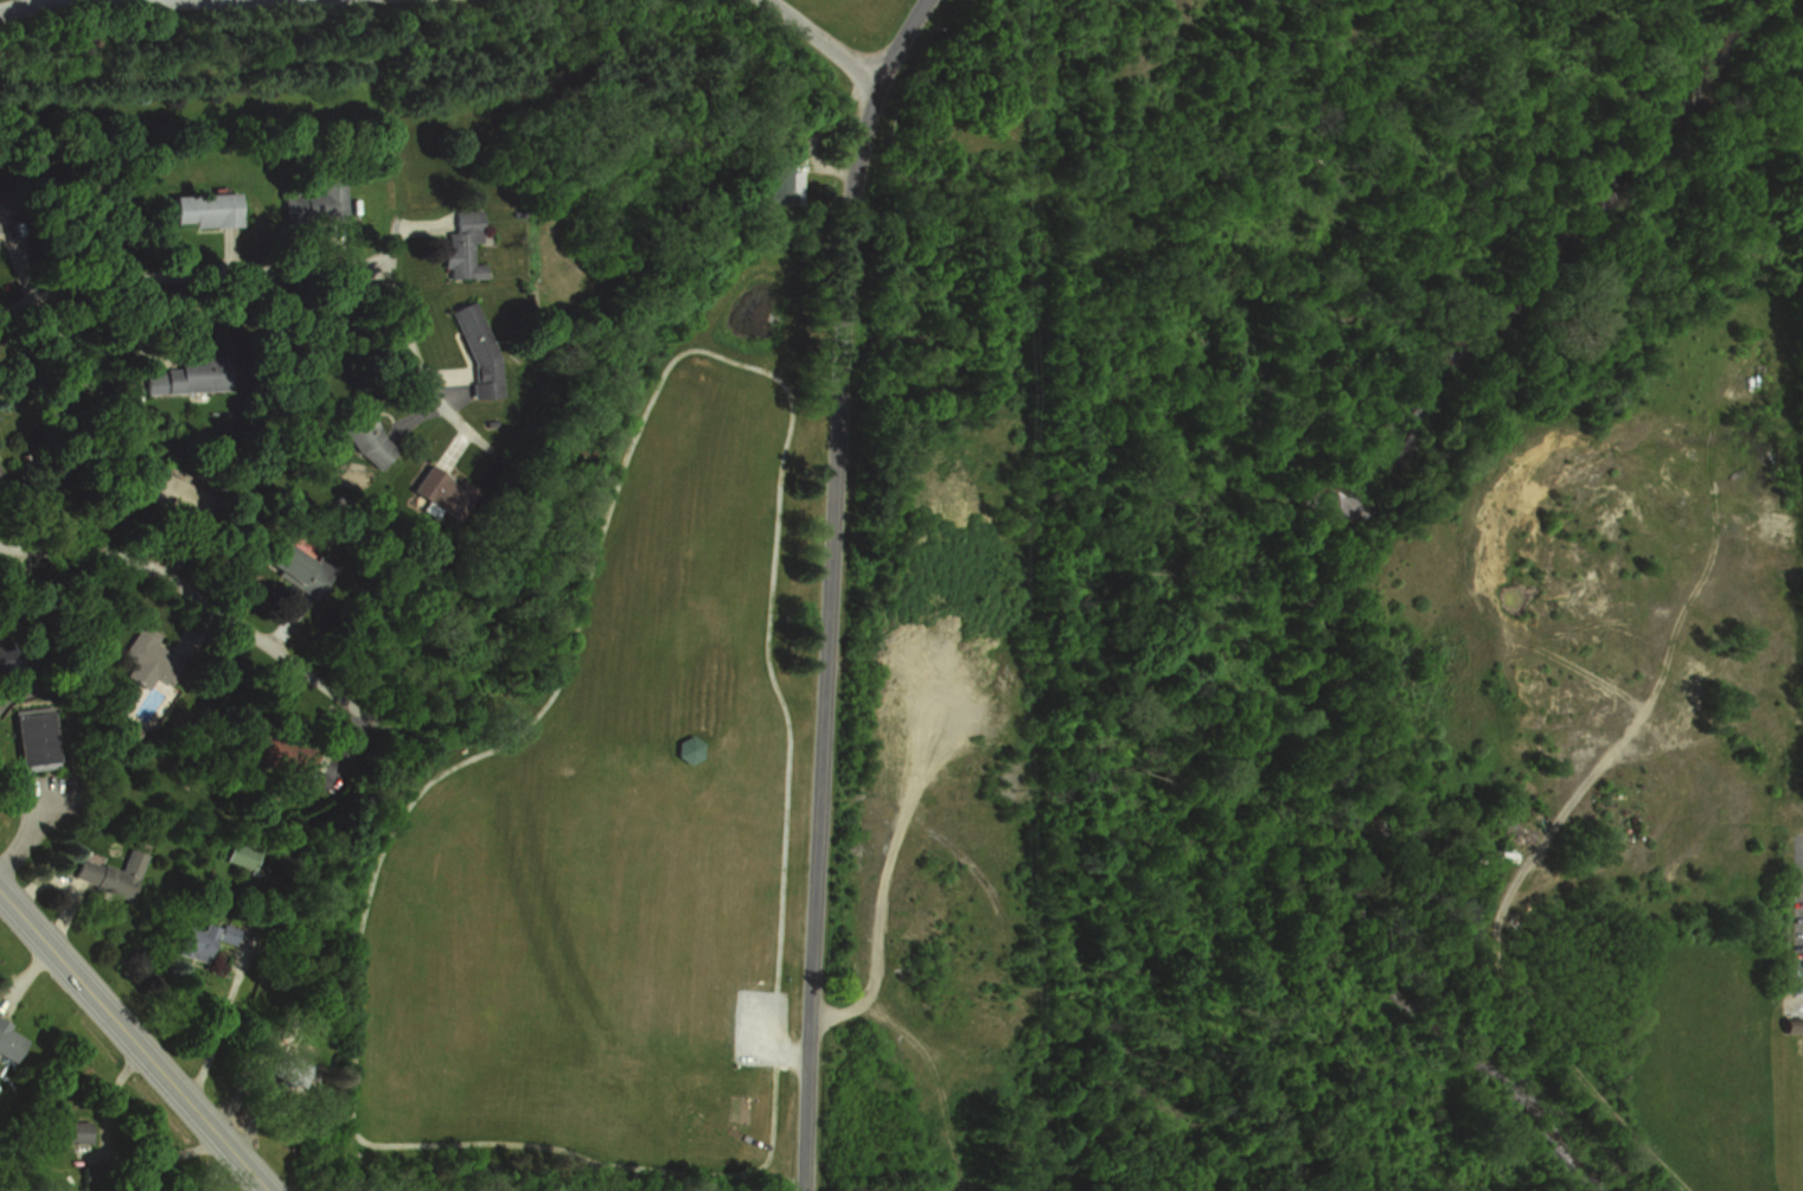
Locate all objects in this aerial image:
road: (18, 6)
road: (824, 36)
park: (965, 132)
building: (780, 181)
building: (312, 203)
building: (199, 209)
building: (459, 244)
road: (196, 278)
road: (407, 337)
building: (473, 350)
building: (179, 376)
building: (358, 433)
building: (430, 487)
building: (164, 491)
building: (293, 569)
road: (833, 585)
road: (209, 596)
building: (140, 655)
building: (4, 658)
road: (9, 687)
building: (32, 739)
building: (287, 760)
park: (621, 800)
building: (235, 853)
building: (108, 873)
road: (69, 884)
building: (192, 941)
road: (133, 1040)
road: (211, 1042)
building: (8, 1043)
building: (288, 1071)
building: (71, 1132)
road: (108, 1151)

